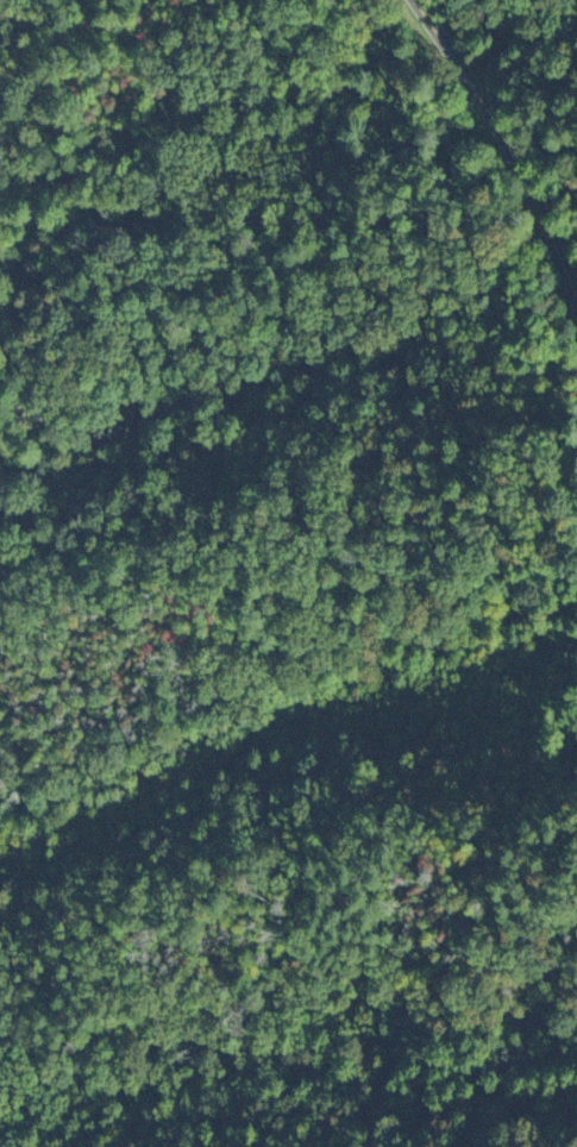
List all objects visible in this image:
road: (504, 145)

